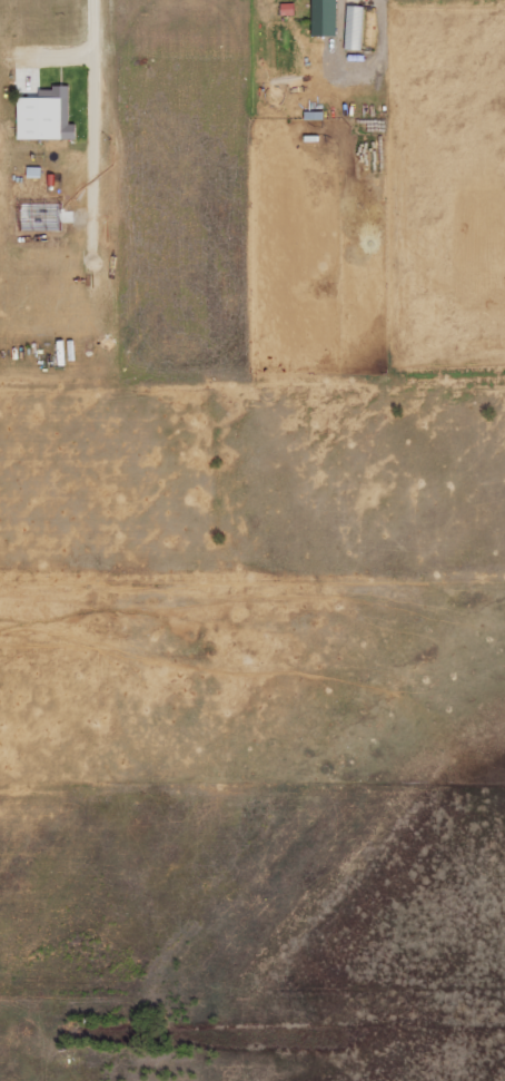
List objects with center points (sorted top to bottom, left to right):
building: (288, 8)
building: (325, 17)
building: (355, 27)
road: (96, 58)
building: (49, 115)

